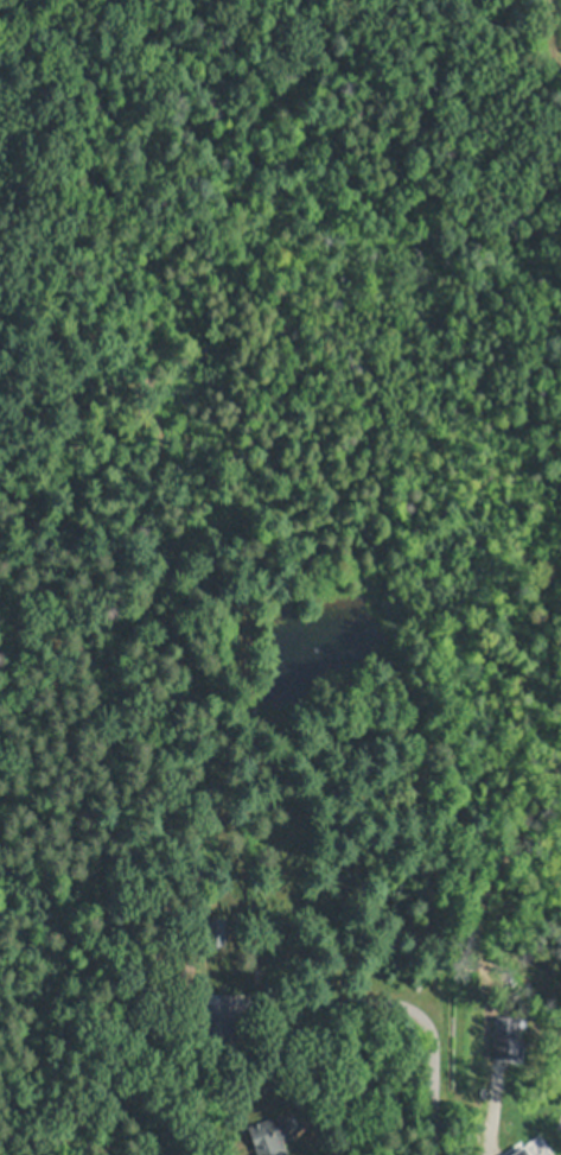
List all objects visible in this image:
crop: (553, 31)
building: (217, 932)
building: (196, 975)
building: (196, 1013)
building: (505, 1037)
building: (217, 1039)
building: (535, 1125)
building: (270, 1136)
building: (518, 1151)
building: (553, 1151)

